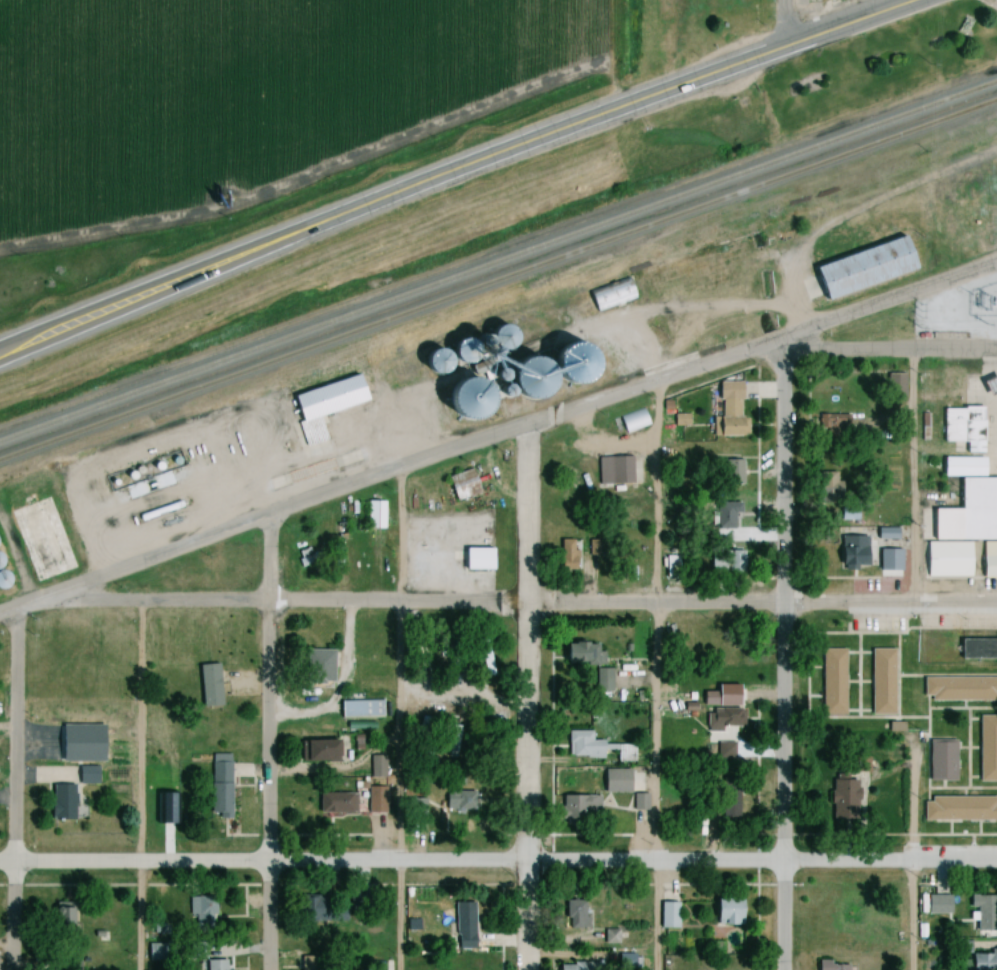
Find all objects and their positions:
road: (780, 24)
road: (705, 76)
crop: (244, 93)
road: (249, 252)
railway: (498, 263)
building: (860, 267)
railway: (498, 281)
railway: (592, 284)
building: (618, 294)
road: (642, 315)
road: (894, 348)
road: (2, 353)
building: (328, 396)
building: (737, 410)
building: (970, 427)
road: (497, 435)
building: (626, 470)
road: (909, 476)
building: (469, 485)
road: (179, 497)
building: (978, 507)
building: (380, 515)
building: (572, 551)
building: (856, 555)
building: (726, 558)
building: (949, 558)
building: (485, 559)
building: (676, 566)
road: (519, 606)
building: (976, 649)
building: (589, 653)
road: (781, 655)
building: (326, 666)
road: (654, 676)
building: (838, 676)
building: (887, 682)
building: (959, 689)
building: (724, 695)
road: (526, 698)
road: (462, 700)
building: (367, 708)
road: (85, 715)
building: (727, 718)
road: (268, 741)
building: (86, 743)
building: (586, 744)
building: (987, 748)
building: (331, 749)
building: (727, 751)
building: (939, 761)
building: (380, 766)
building: (93, 774)
building: (225, 785)
road: (399, 787)
road: (15, 789)
building: (849, 793)
building: (381, 799)
building: (462, 801)
building: (641, 801)
building: (68, 802)
building: (341, 803)
building: (586, 806)
building: (958, 810)
building: (734, 811)
road: (909, 859)
road: (498, 861)
building: (935, 905)
building: (204, 907)
building: (736, 912)
building: (849, 913)
building: (981, 914)
building: (582, 915)
building: (674, 915)
road: (137, 916)
building: (68, 918)
building: (887, 934)
building: (472, 935)
building: (163, 952)
building: (978, 961)
building: (71, 965)
building: (220, 965)
building: (584, 966)
building: (828, 966)

